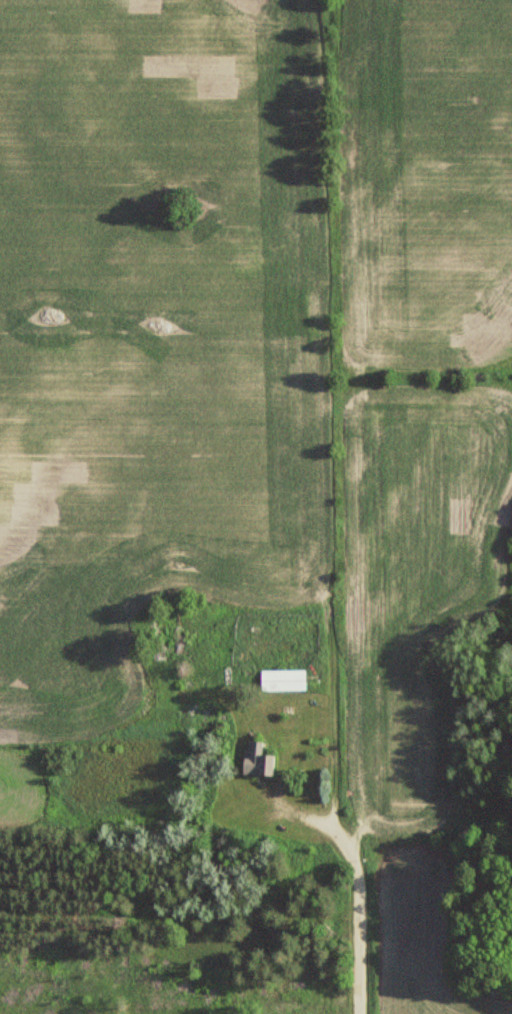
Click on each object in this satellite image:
building: (282, 679)
building: (257, 759)
road: (358, 916)

